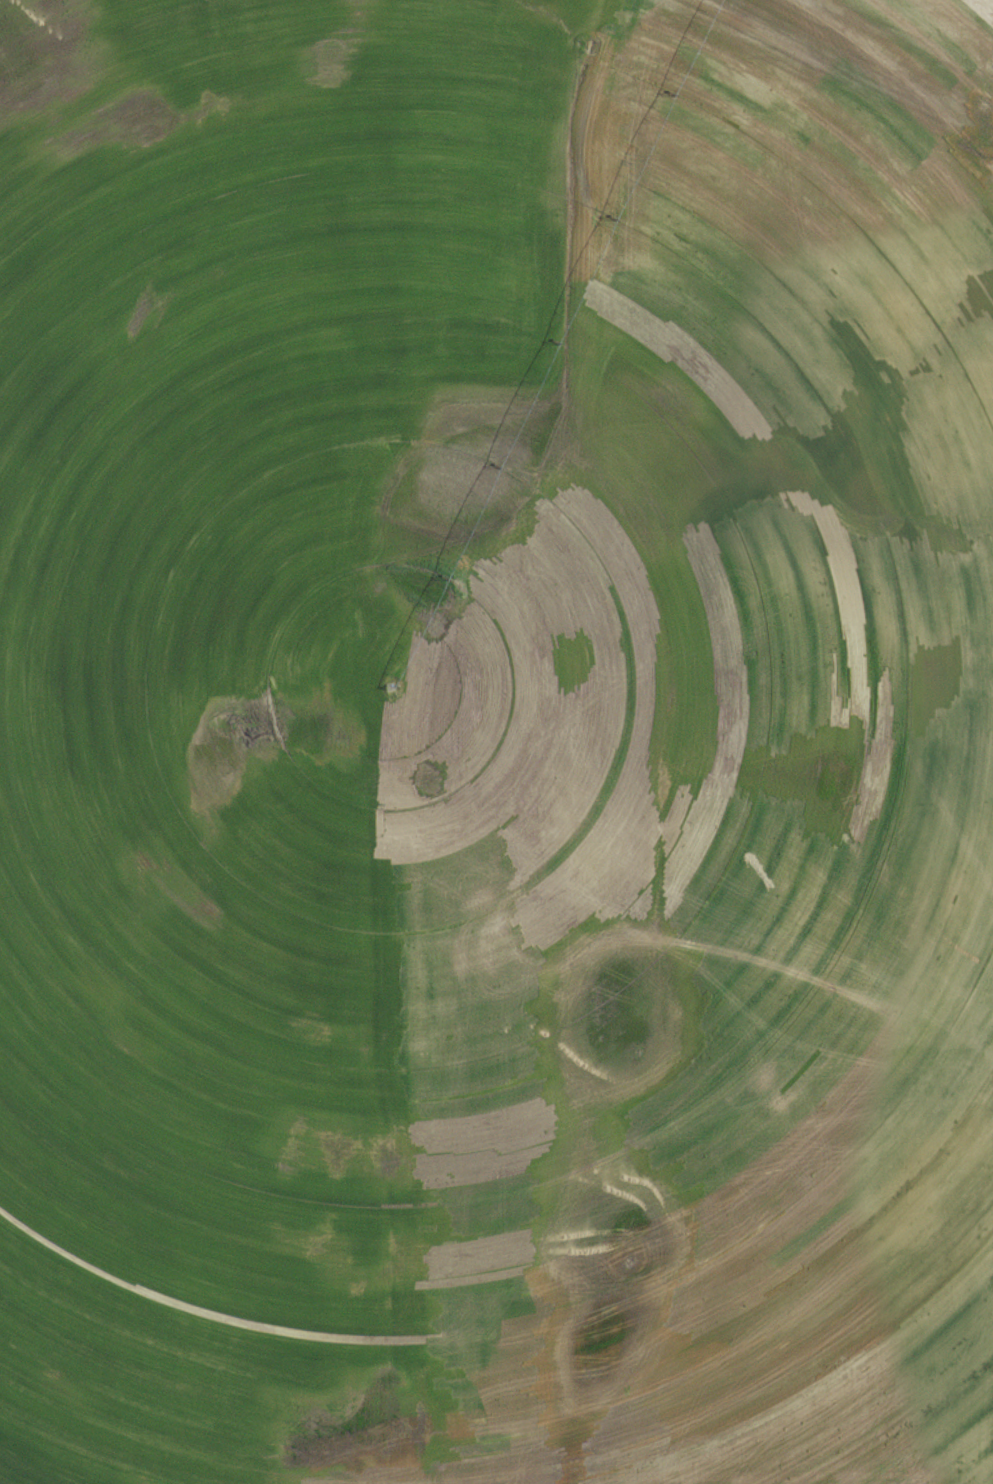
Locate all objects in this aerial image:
crop: (496, 742)

